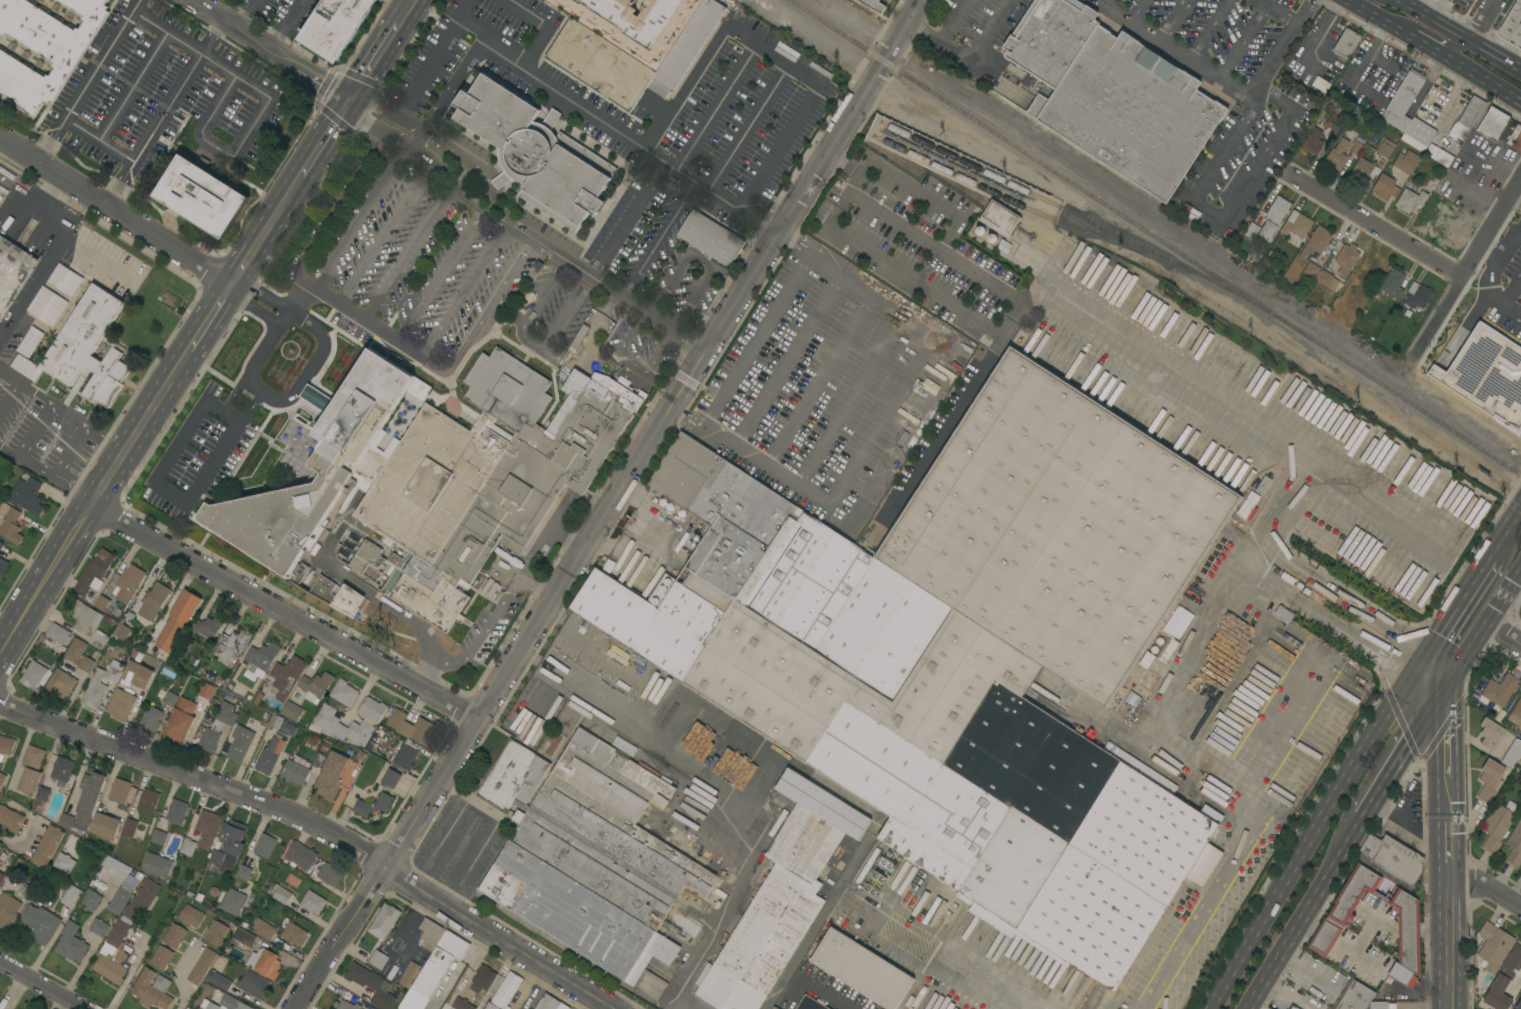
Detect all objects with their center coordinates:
building: (55, 0)
road: (1404, 1)
building: (874, 5)
road: (231, 8)
road: (1135, 8)
road: (1280, 10)
road: (1440, 10)
road: (408, 12)
road: (251, 13)
road: (463, 15)
road: (1169, 17)
road: (1370, 19)
road: (1478, 19)
road: (953, 20)
road: (289, 24)
building: (635, 24)
road: (170, 25)
building: (337, 26)
building: (1512, 26)
road: (545, 27)
road: (1206, 27)
road: (1424, 31)
road: (1460, 34)
road: (1242, 37)
building: (1346, 43)
road: (1282, 45)
road: (1177, 46)
building: (44, 48)
road: (276, 49)
road: (1426, 52)
road: (773, 54)
building: (631, 58)
road: (379, 59)
road: (971, 60)
road: (427, 74)
road: (86, 79)
road: (134, 84)
building: (1321, 84)
road: (1485, 86)
road: (449, 89)
road: (266, 90)
building: (1114, 95)
road: (356, 96)
building: (1402, 102)
road: (379, 106)
road: (715, 106)
road: (349, 107)
road: (165, 110)
building: (1472, 112)
road: (212, 116)
building: (1493, 123)
road: (363, 125)
road: (748, 128)
building: (1333, 130)
building: (1420, 131)
building: (1458, 131)
road: (615, 132)
building: (1512, 135)
road: (414, 140)
road: (95, 142)
building: (1312, 142)
road: (439, 143)
building: (1413, 143)
road: (324, 146)
building: (1355, 146)
building: (1385, 148)
building: (536, 153)
building: (1337, 155)
road: (423, 158)
building: (1444, 158)
building: (1406, 162)
road: (477, 166)
building: (1364, 171)
building: (1386, 187)
building: (202, 196)
building: (1, 197)
road: (1517, 197)
road: (841, 198)
building: (1411, 198)
railway: (1012, 201)
road: (637, 203)
road: (286, 205)
road: (500, 210)
road: (1228, 210)
road: (117, 212)
road: (329, 212)
railway: (1079, 215)
road: (492, 216)
building: (1000, 218)
road: (361, 219)
road: (957, 220)
building: (1269, 220)
building: (1297, 224)
road: (1375, 227)
road: (385, 235)
railway: (1156, 237)
building: (711, 238)
road: (658, 239)
road: (1507, 240)
building: (1317, 241)
road: (57, 246)
road: (407, 254)
building: (1346, 255)
road: (599, 258)
road: (250, 259)
road: (98, 260)
building: (1311, 269)
building: (13, 272)
road: (1465, 273)
road: (437, 276)
building: (65, 279)
building: (1327, 279)
road: (907, 280)
road: (986, 281)
building: (1393, 283)
road: (1491, 285)
road: (609, 286)
road: (462, 289)
road: (1511, 289)
building: (1417, 296)
road: (298, 298)
building: (48, 306)
road: (530, 306)
road: (565, 310)
road: (213, 316)
road: (281, 320)
road: (274, 329)
road: (3, 331)
road: (3, 338)
road: (753, 339)
building: (30, 341)
road: (323, 347)
building: (84, 349)
road: (785, 360)
road: (608, 363)
road: (446, 371)
building: (1487, 374)
road: (817, 381)
road: (163, 394)
road: (8, 395)
road: (234, 396)
road: (1220, 402)
road: (847, 403)
road: (62, 412)
road: (880, 417)
road: (944, 428)
road: (914, 429)
road: (22, 449)
road: (69, 452)
road: (8, 453)
road: (110, 475)
building: (430, 476)
building: (1263, 484)
road: (75, 488)
building: (27, 495)
road: (171, 496)
road: (1376, 501)
road: (608, 505)
building: (1247, 505)
road: (1510, 520)
building: (10, 523)
building: (1059, 527)
road: (543, 539)
road: (565, 539)
building: (1, 545)
building: (396, 561)
building: (370, 565)
building: (3, 566)
building: (94, 574)
road: (44, 580)
building: (128, 583)
road: (536, 589)
road: (367, 592)
road: (1503, 592)
road: (1323, 593)
building: (336, 596)
road: (1461, 598)
building: (153, 601)
building: (102, 603)
road: (282, 614)
building: (85, 617)
building: (178, 620)
building: (208, 626)
building: (122, 631)
road: (483, 631)
road: (1503, 631)
building: (58, 634)
building: (98, 639)
building: (233, 644)
building: (75, 650)
road: (1461, 657)
building: (261, 658)
traffic signals: (1423, 659)
building: (86, 664)
building: (114, 673)
building: (137, 674)
building: (850, 674)
building: (35, 675)
building: (288, 676)
road: (1430, 677)
building: (61, 683)
building: (315, 686)
road: (363, 689)
building: (94, 690)
building: (206, 691)
building: (1499, 691)
building: (344, 693)
traffic signals: (1438, 695)
building: (256, 697)
building: (170, 698)
building: (121, 704)
road: (609, 704)
building: (372, 709)
building: (292, 711)
building: (1516, 714)
building: (151, 718)
building: (180, 720)
building: (275, 721)
building: (343, 726)
building: (410, 726)
building: (217, 727)
building: (288, 728)
building: (1491, 734)
building: (238, 744)
building: (6, 746)
building: (1512, 754)
building: (270, 755)
building: (405, 756)
road: (1399, 756)
road: (1441, 756)
building: (1520, 761)
building: (62, 769)
building: (31, 770)
building: (295, 773)
road: (1223, 773)
building: (330, 776)
building: (2, 779)
building: (391, 779)
building: (1491, 780)
building: (119, 790)
building: (41, 797)
road: (469, 797)
building: (148, 801)
building: (85, 802)
building: (373, 805)
building: (177, 811)
building: (10, 819)
building: (1498, 825)
building: (105, 826)
building: (129, 827)
building: (203, 827)
road: (323, 828)
road: (1313, 832)
building: (159, 837)
road: (441, 839)
road: (1444, 839)
road: (20, 842)
building: (229, 845)
building: (265, 845)
building: (48, 846)
building: (188, 847)
building: (1514, 847)
building: (589, 854)
building: (301, 855)
road: (473, 858)
building: (1392, 860)
building: (64, 863)
building: (157, 865)
building: (1107, 867)
building: (3, 873)
building: (246, 873)
building: (330, 875)
road: (8, 882)
road: (745, 883)
road: (1482, 883)
building: (121, 895)
building: (282, 895)
building: (71, 896)
building: (782, 896)
building: (91, 900)
building: (141, 900)
building: (233, 902)
building: (313, 902)
building: (8, 910)
road: (1303, 912)
building: (37, 916)
building: (191, 916)
building: (1335, 919)
building: (384, 922)
building: (99, 927)
building: (264, 929)
building: (216, 933)
building: (294, 934)
building: (430, 934)
road: (1445, 935)
building: (175, 936)
building: (244, 937)
building: (71, 943)
building: (1494, 945)
building: (112, 954)
building: (161, 958)
building: (378, 959)
building: (263, 963)
building: (439, 963)
building: (202, 966)
road: (458, 967)
building: (1509, 967)
building: (862, 969)
road: (930, 970)
road: (129, 973)
building: (1401, 973)
building: (409, 974)
road: (1305, 974)
road: (181, 975)
building: (483, 979)
building: (218, 980)
road: (343, 981)
building: (253, 985)
building: (372, 985)
road: (527, 985)
road: (41, 987)
building: (152, 989)
road: (821, 991)
building: (505, 992)
road: (17, 994)
road: (1284, 996)
building: (1354, 996)
road: (590, 1001)
building: (548, 1002)
building: (232, 1003)
building: (811, 1003)
building: (461, 1004)
building: (211, 1005)
building: (345, 1005)
building: (1380, 1005)
building: (1518, 1005)
building: (563, 1006)
building: (1293, 1006)
building: (774, 1008)

